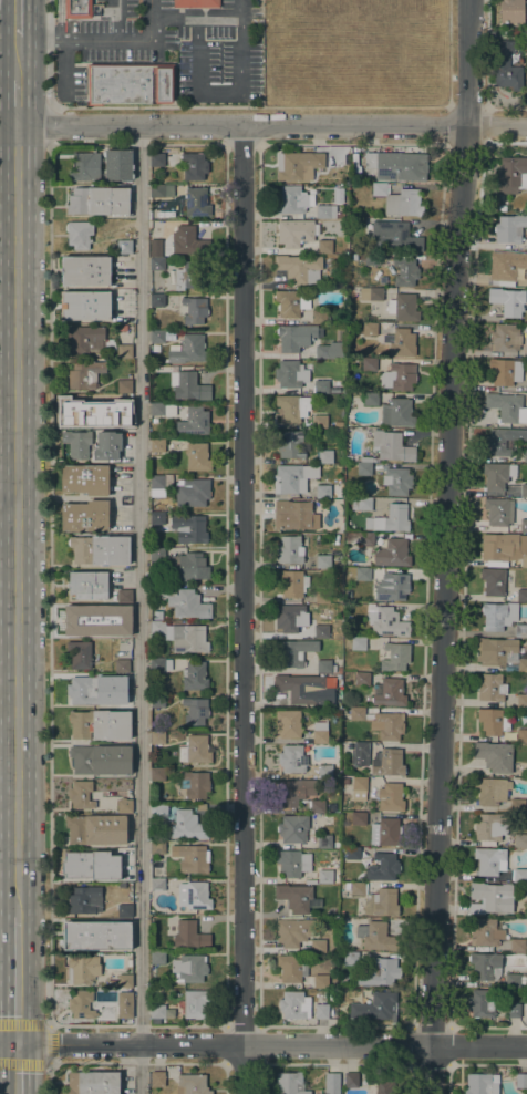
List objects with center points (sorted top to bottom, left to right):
building: (196, 3)
building: (76, 9)
building: (526, 9)
building: (512, 10)
road: (17, 19)
road: (60, 19)
road: (117, 20)
road: (102, 39)
road: (15, 59)
building: (506, 65)
building: (130, 81)
road: (244, 82)
road: (15, 102)
road: (112, 106)
road: (416, 106)
road: (49, 124)
road: (271, 125)
building: (352, 151)
building: (163, 159)
building: (118, 165)
building: (298, 165)
building: (397, 165)
building: (84, 166)
building: (194, 166)
building: (512, 175)
building: (162, 192)
building: (292, 199)
building: (99, 200)
building: (397, 200)
building: (196, 202)
building: (502, 208)
building: (325, 211)
building: (340, 215)
building: (509, 228)
building: (296, 231)
building: (79, 234)
building: (394, 235)
building: (188, 241)
building: (124, 246)
building: (324, 247)
building: (155, 250)
building: (371, 258)
building: (156, 264)
building: (299, 268)
building: (505, 268)
building: (85, 270)
building: (405, 271)
building: (185, 278)
building: (371, 295)
building: (157, 300)
building: (507, 300)
building: (291, 302)
building: (85, 306)
building: (403, 307)
building: (194, 310)
building: (319, 316)
building: (123, 327)
building: (370, 329)
building: (161, 337)
building: (296, 337)
building: (505, 338)
building: (89, 340)
building: (401, 342)
building: (155, 348)
building: (189, 350)
building: (330, 350)
building: (124, 351)
building: (369, 364)
building: (505, 371)
building: (290, 373)
building: (85, 374)
road: (8, 375)
building: (399, 376)
building: (124, 384)
building: (188, 385)
building: (321, 385)
building: (526, 385)
building: (371, 399)
building: (504, 405)
building: (291, 407)
building: (86, 409)
building: (157, 409)
building: (170, 410)
building: (397, 412)
building: (124, 421)
building: (194, 422)
building: (319, 422)
building: (503, 440)
building: (76, 443)
building: (292, 444)
building: (107, 445)
building: (157, 445)
building: (390, 447)
building: (324, 455)
building: (525, 455)
building: (197, 457)
building: (363, 468)
building: (497, 475)
building: (292, 478)
building: (85, 479)
building: (396, 481)
building: (159, 485)
building: (524, 491)
building: (192, 492)
building: (323, 492)
building: (364, 504)
road: (8, 508)
building: (497, 512)
building: (294, 515)
building: (85, 516)
building: (157, 518)
building: (390, 519)
road: (15, 522)
building: (524, 525)
road: (8, 527)
building: (188, 528)
building: (360, 538)
road: (445, 546)
building: (504, 547)
building: (101, 549)
building: (290, 549)
building: (392, 553)
building: (157, 555)
building: (323, 561)
building: (188, 567)
building: (362, 574)
building: (493, 581)
road: (50, 584)
road: (139, 584)
building: (292, 584)
building: (87, 585)
building: (392, 587)
building: (348, 594)
building: (124, 596)
building: (322, 596)
building: (521, 596)
building: (185, 601)
road: (242, 609)
building: (157, 615)
building: (498, 616)
building: (288, 618)
building: (87, 619)
building: (385, 621)
building: (520, 630)
building: (124, 631)
building: (321, 631)
building: (183, 637)
building: (358, 643)
building: (293, 652)
building: (500, 653)
building: (80, 654)
building: (395, 657)
building: (161, 664)
building: (122, 665)
building: (324, 667)
building: (195, 677)
building: (362, 679)
building: (490, 688)
building: (301, 689)
building: (85, 691)
building: (389, 693)
building: (124, 700)
building: (157, 701)
building: (521, 701)
building: (195, 711)
building: (356, 713)
building: (493, 721)
building: (100, 724)
building: (288, 724)
building: (389, 725)
road: (8, 727)
building: (319, 733)
building: (521, 735)
building: (157, 737)
building: (361, 749)
building: (195, 750)
building: (495, 757)
building: (100, 758)
building: (291, 758)
building: (387, 762)
building: (324, 771)
building: (157, 774)
building: (345, 781)
building: (197, 784)
building: (359, 788)
building: (293, 791)
building: (492, 791)
building: (81, 794)
building: (390, 797)
road: (8, 804)
building: (124, 805)
building: (517, 805)
building: (317, 806)
building: (158, 811)
building: (359, 818)
building: (187, 825)
building: (492, 827)
building: (292, 828)
building: (96, 829)
building: (386, 833)
building: (520, 839)
building: (325, 842)
building: (157, 848)
building: (352, 854)
building: (190, 858)
building: (489, 860)
building: (292, 863)
building: (92, 865)
building: (382, 867)
building: (519, 875)
building: (328, 876)
building: (157, 884)
building: (356, 888)
building: (194, 895)
building: (489, 897)
building: (296, 898)
building: (84, 901)
building: (381, 902)
building: (124, 910)
building: (292, 932)
building: (486, 932)
building: (96, 936)
building: (189, 936)
building: (376, 937)
building: (318, 946)
building: (517, 946)
building: (157, 958)
building: (485, 966)
building: (189, 968)
building: (291, 968)
building: (82, 969)
building: (373, 969)
road: (17, 980)
building: (124, 980)
building: (513, 980)
building: (320, 981)
building: (482, 1002)
building: (195, 1003)
building: (82, 1004)
building: (124, 1004)
building: (294, 1005)
building: (375, 1007)
building: (513, 1010)
building: (157, 1011)
building: (321, 1011)
road: (95, 1025)
road: (183, 1025)
road: (9, 1043)
traffic signals: (18, 1043)
road: (49, 1043)
road: (227, 1044)
road: (271, 1044)
road: (137, 1063)
road: (18, 1069)
road: (138, 1069)
road: (49, 1078)
building: (157, 1078)
building: (351, 1080)
building: (521, 1080)
building: (92, 1083)
building: (289, 1083)
building: (332, 1083)
building: (482, 1083)
building: (192, 1084)
building: (379, 1086)

